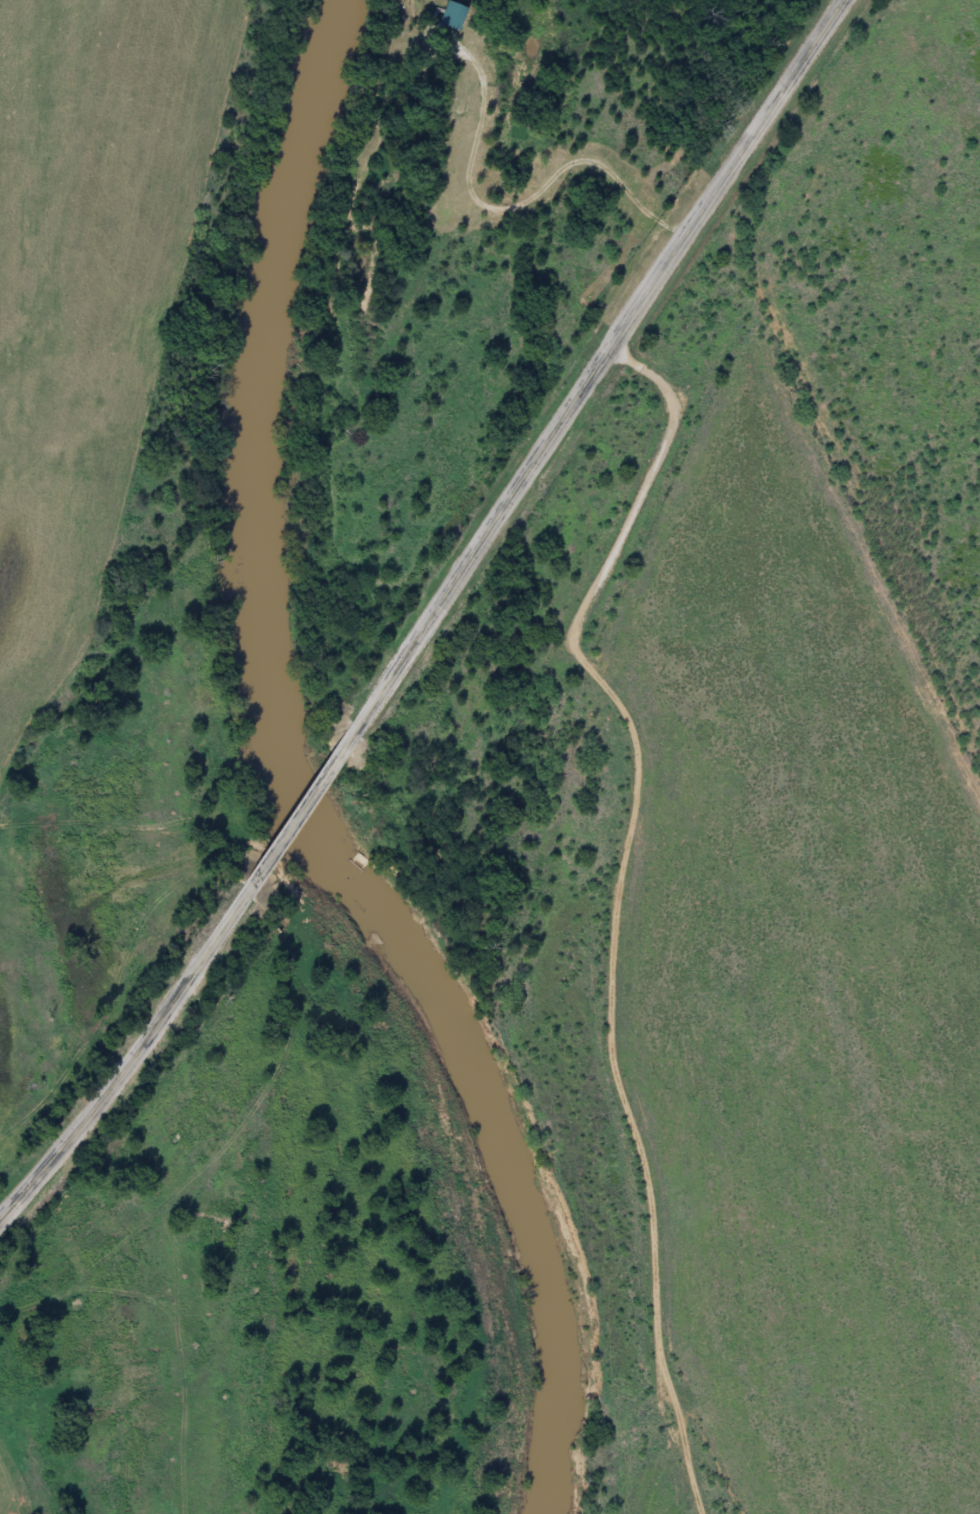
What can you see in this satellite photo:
building: (455, 16)
road: (597, 365)
river: (294, 786)
road: (304, 811)
road: (133, 1059)
road: (684, 1237)

